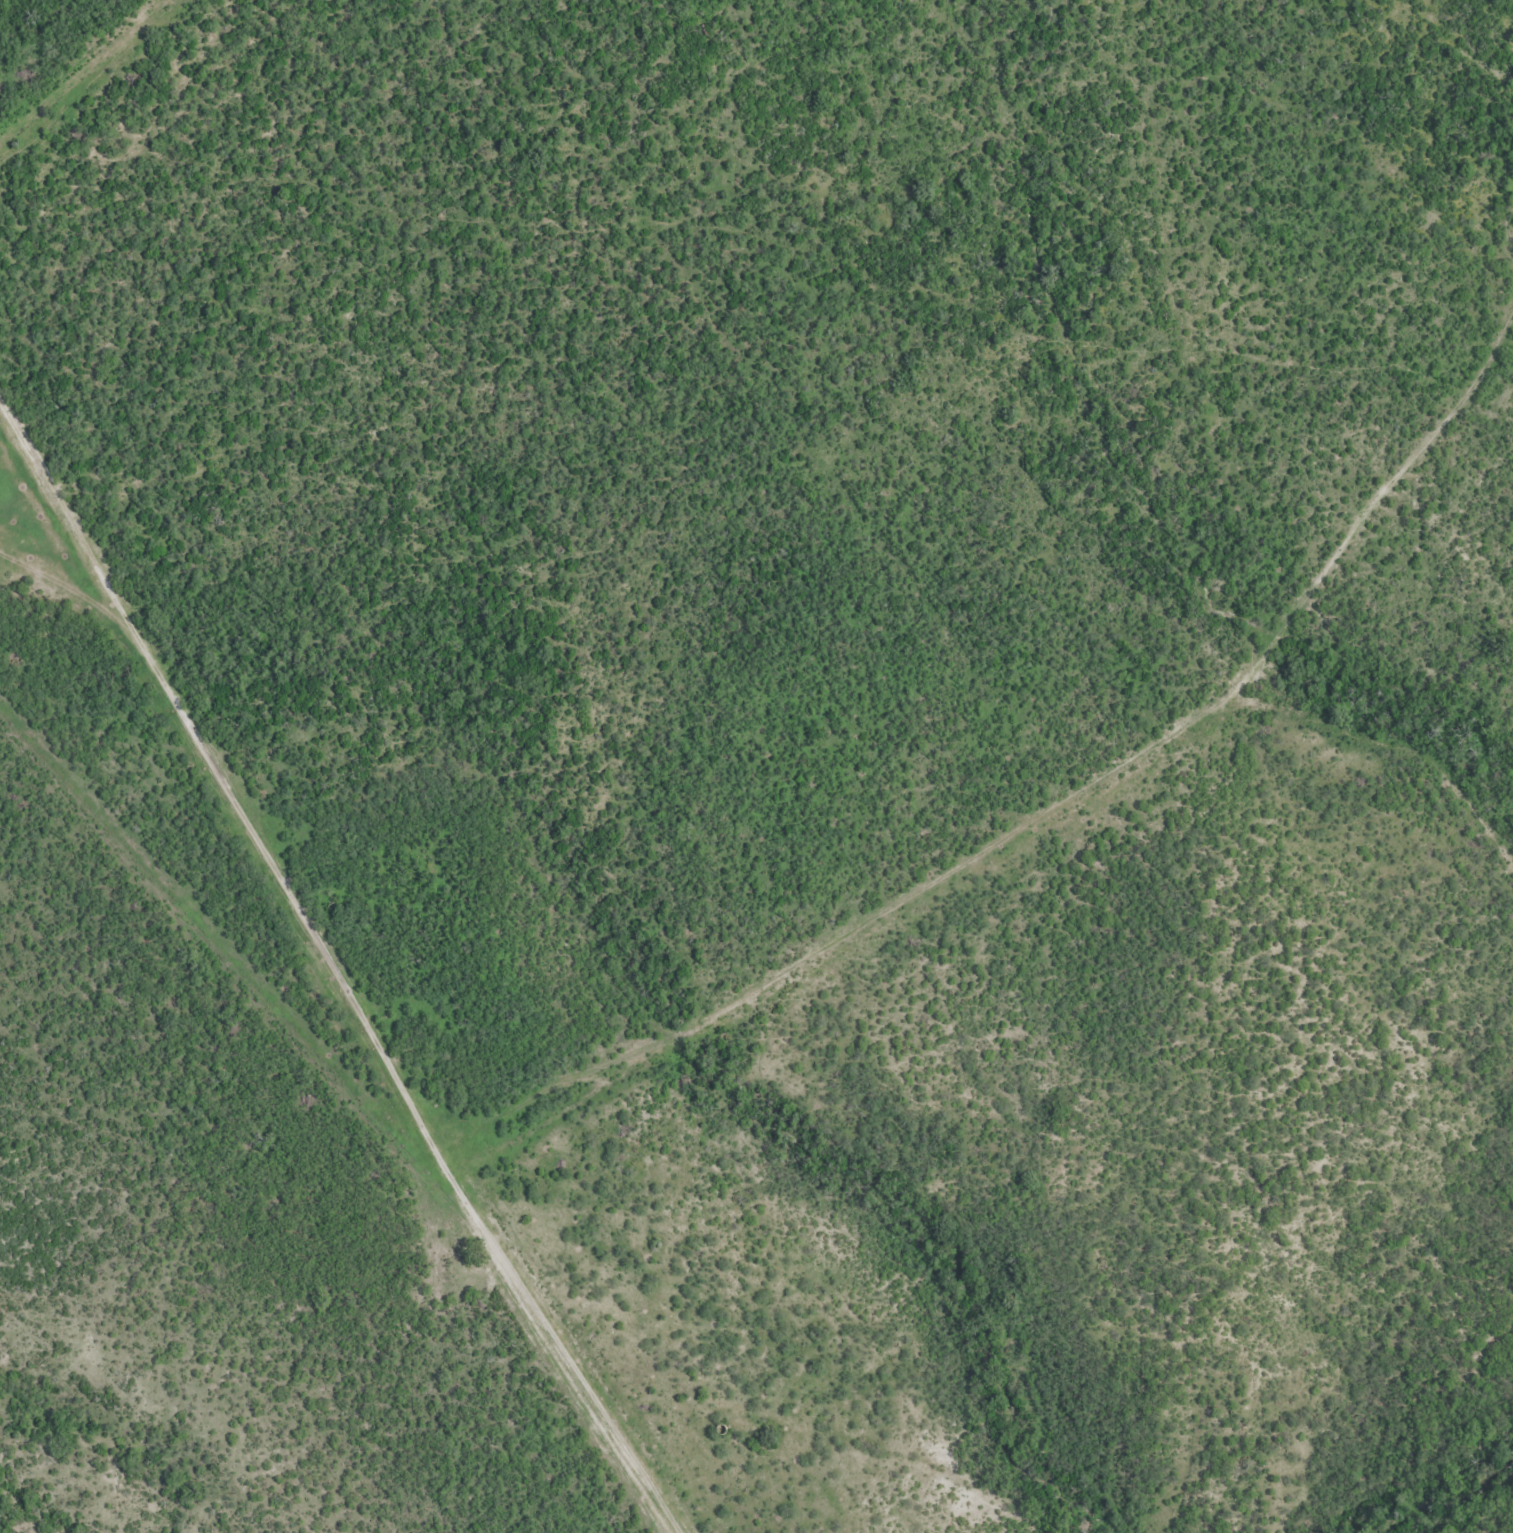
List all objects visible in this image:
road: (916, 628)
road: (812, 1038)

